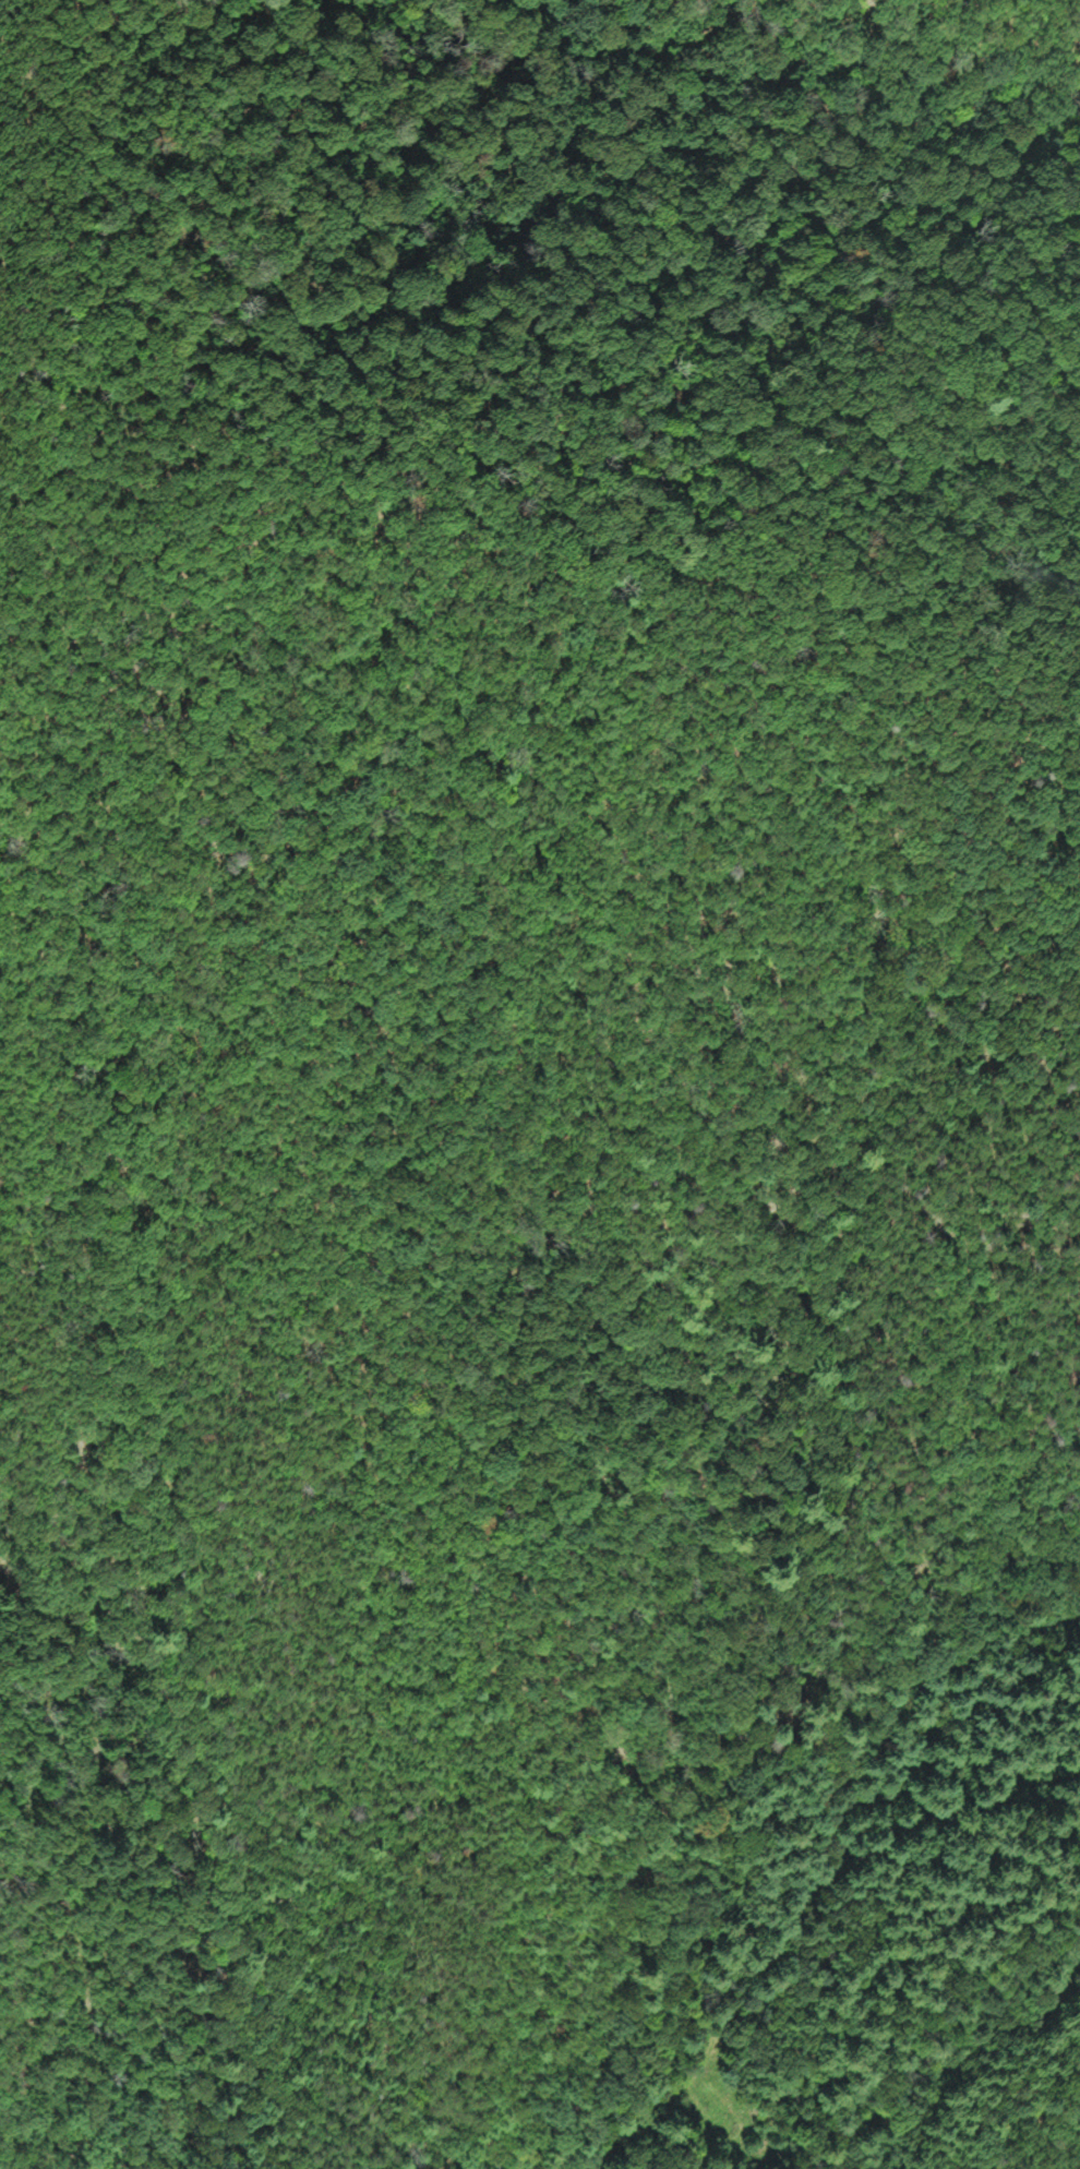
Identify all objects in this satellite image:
road: (808, 1910)

